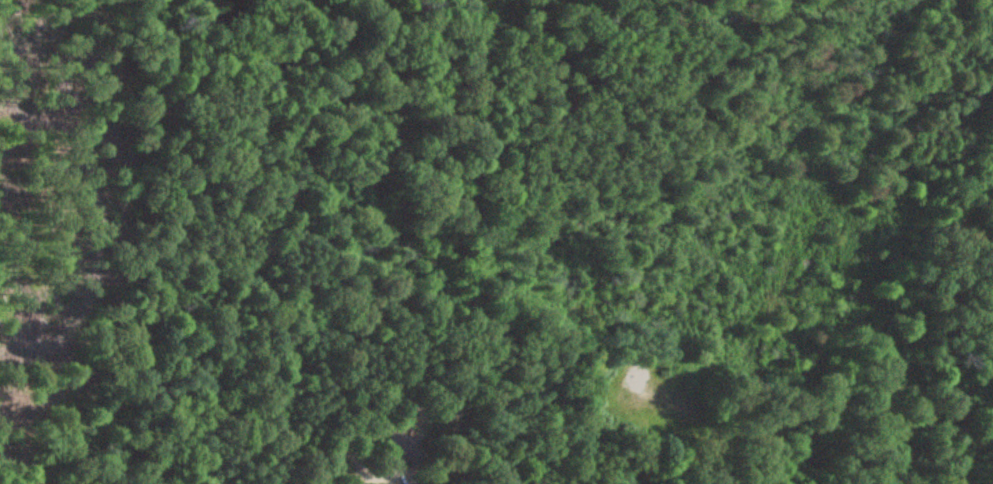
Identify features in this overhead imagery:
building: (401, 446)

